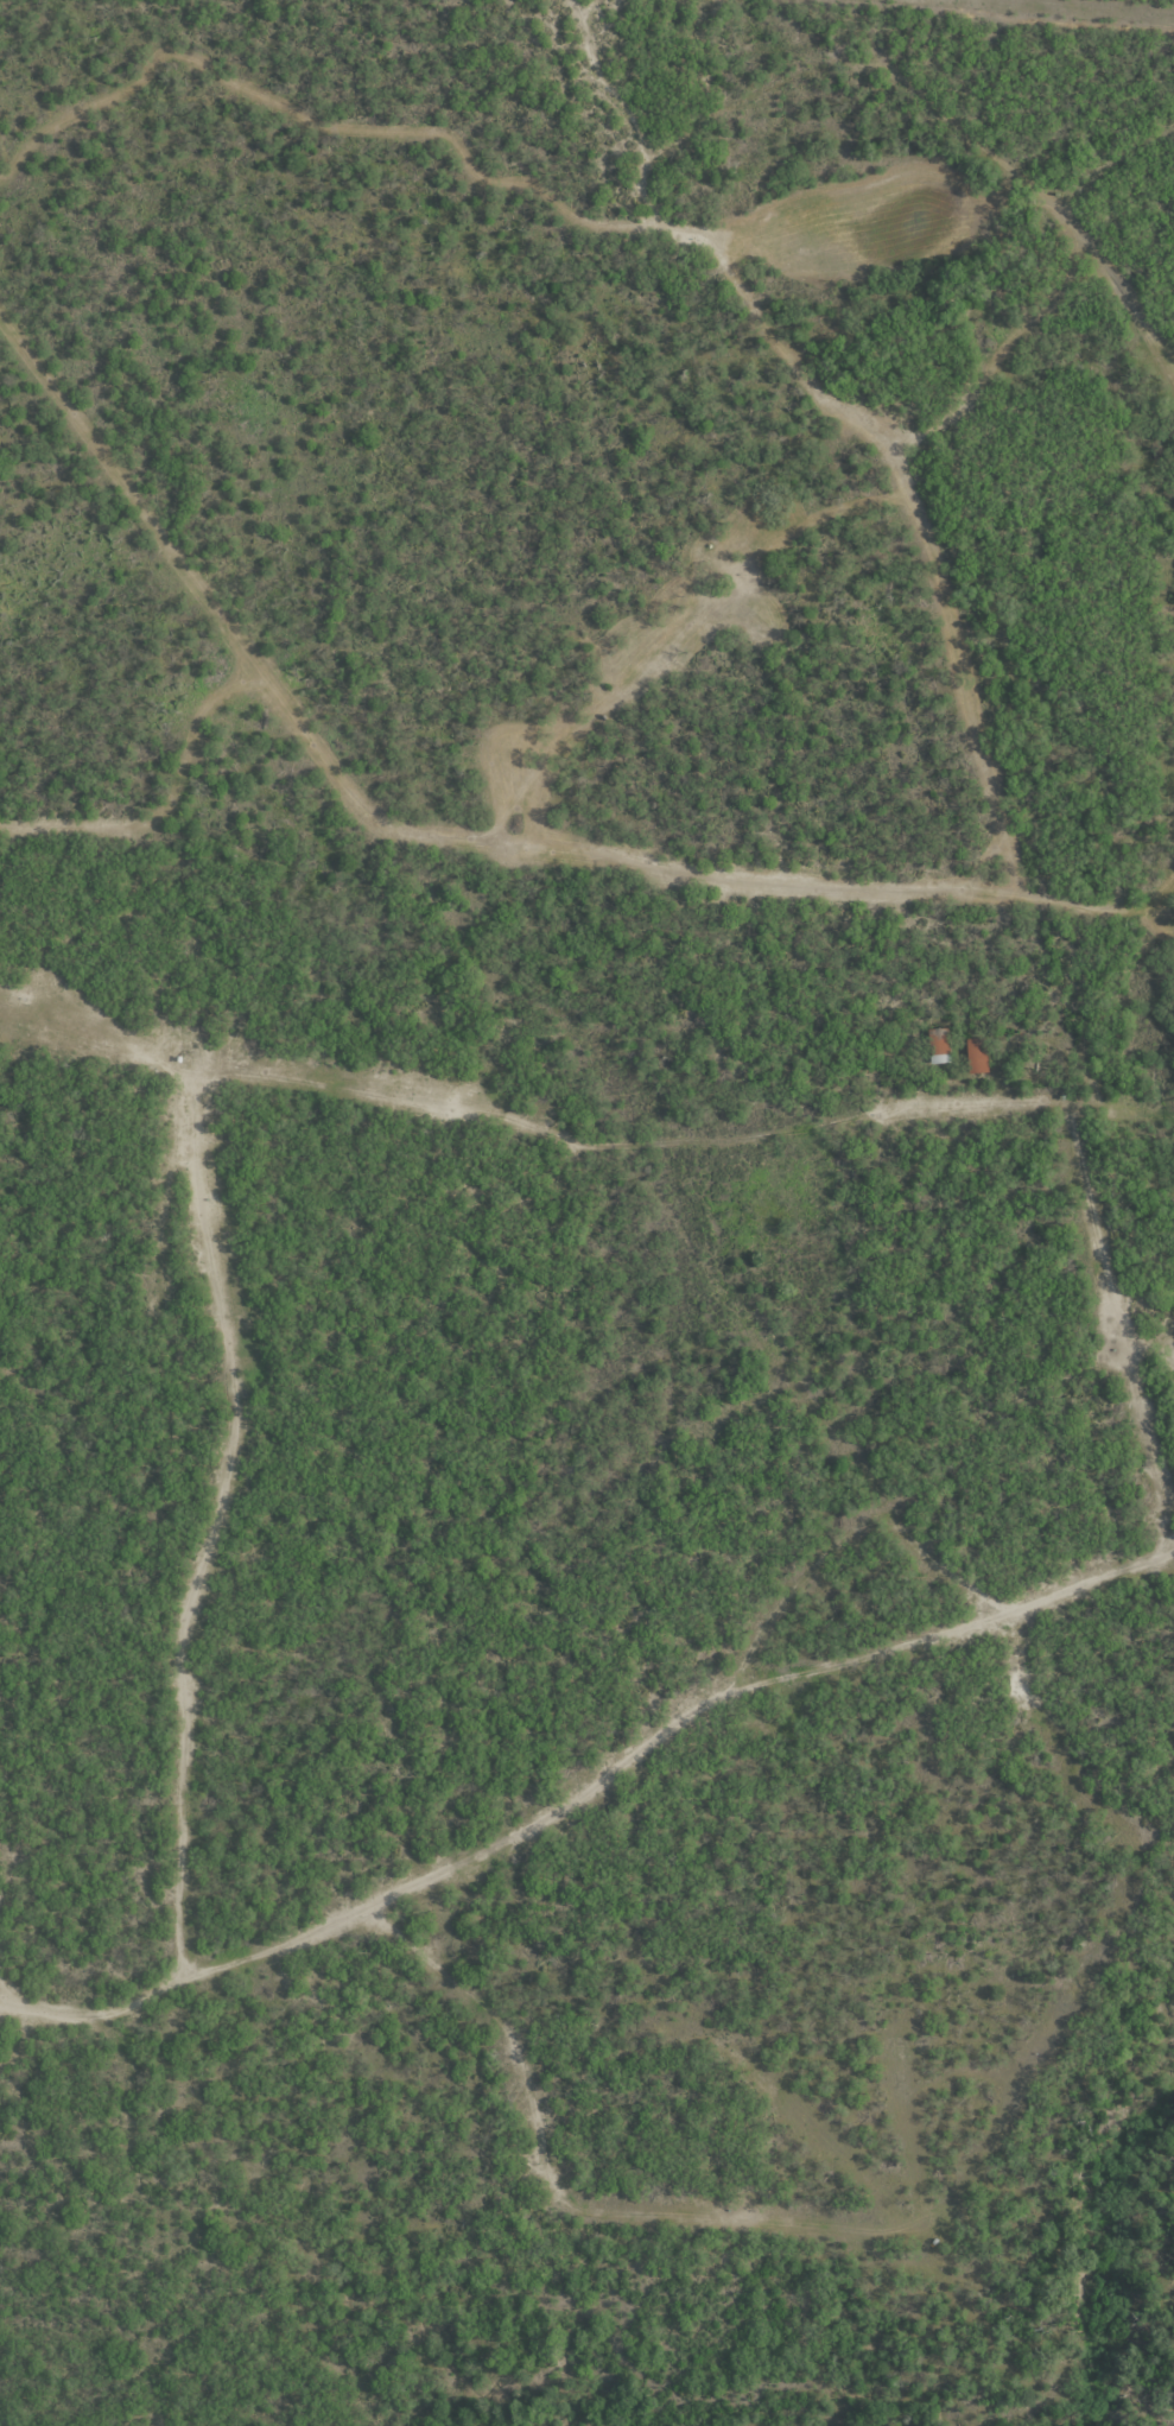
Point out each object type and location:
building: (935, 1045)
building: (973, 1053)

